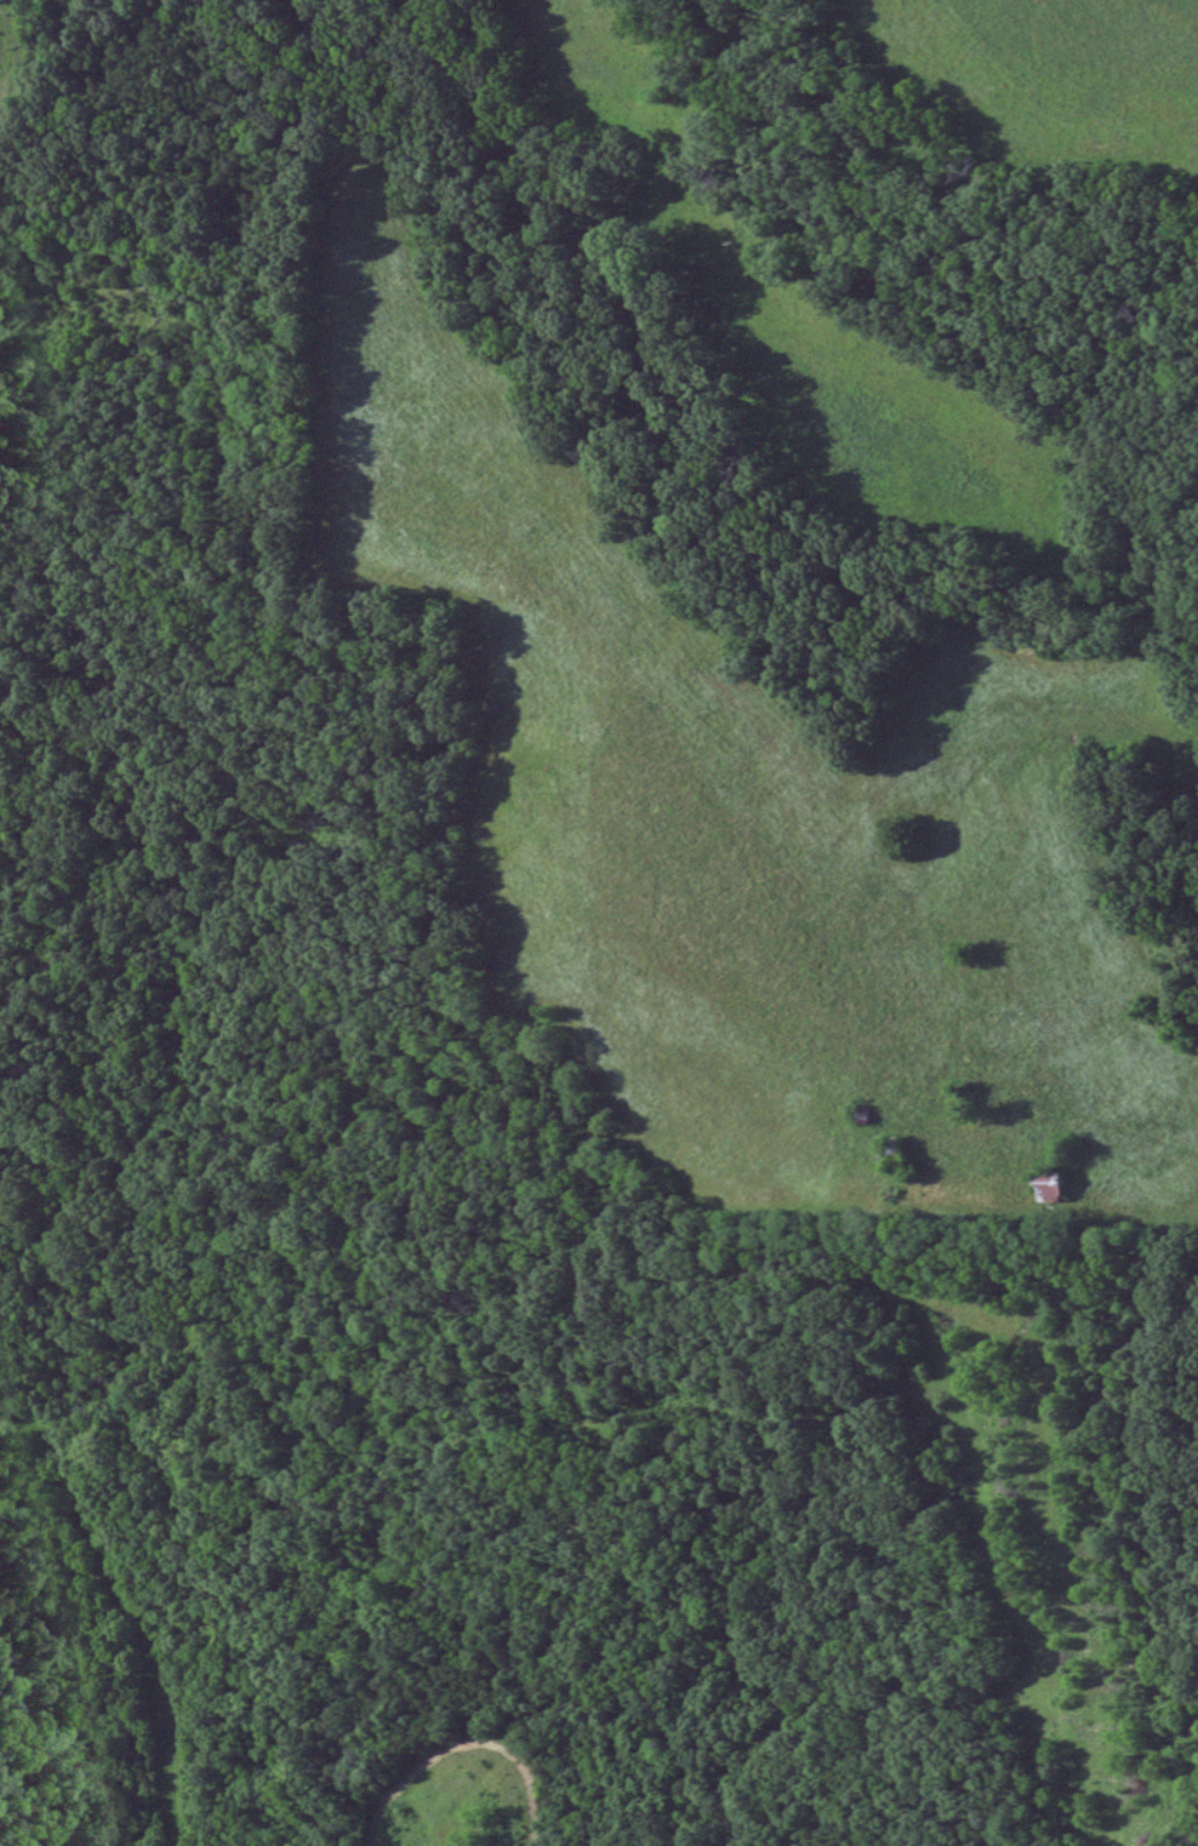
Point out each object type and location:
building: (1052, 1187)

